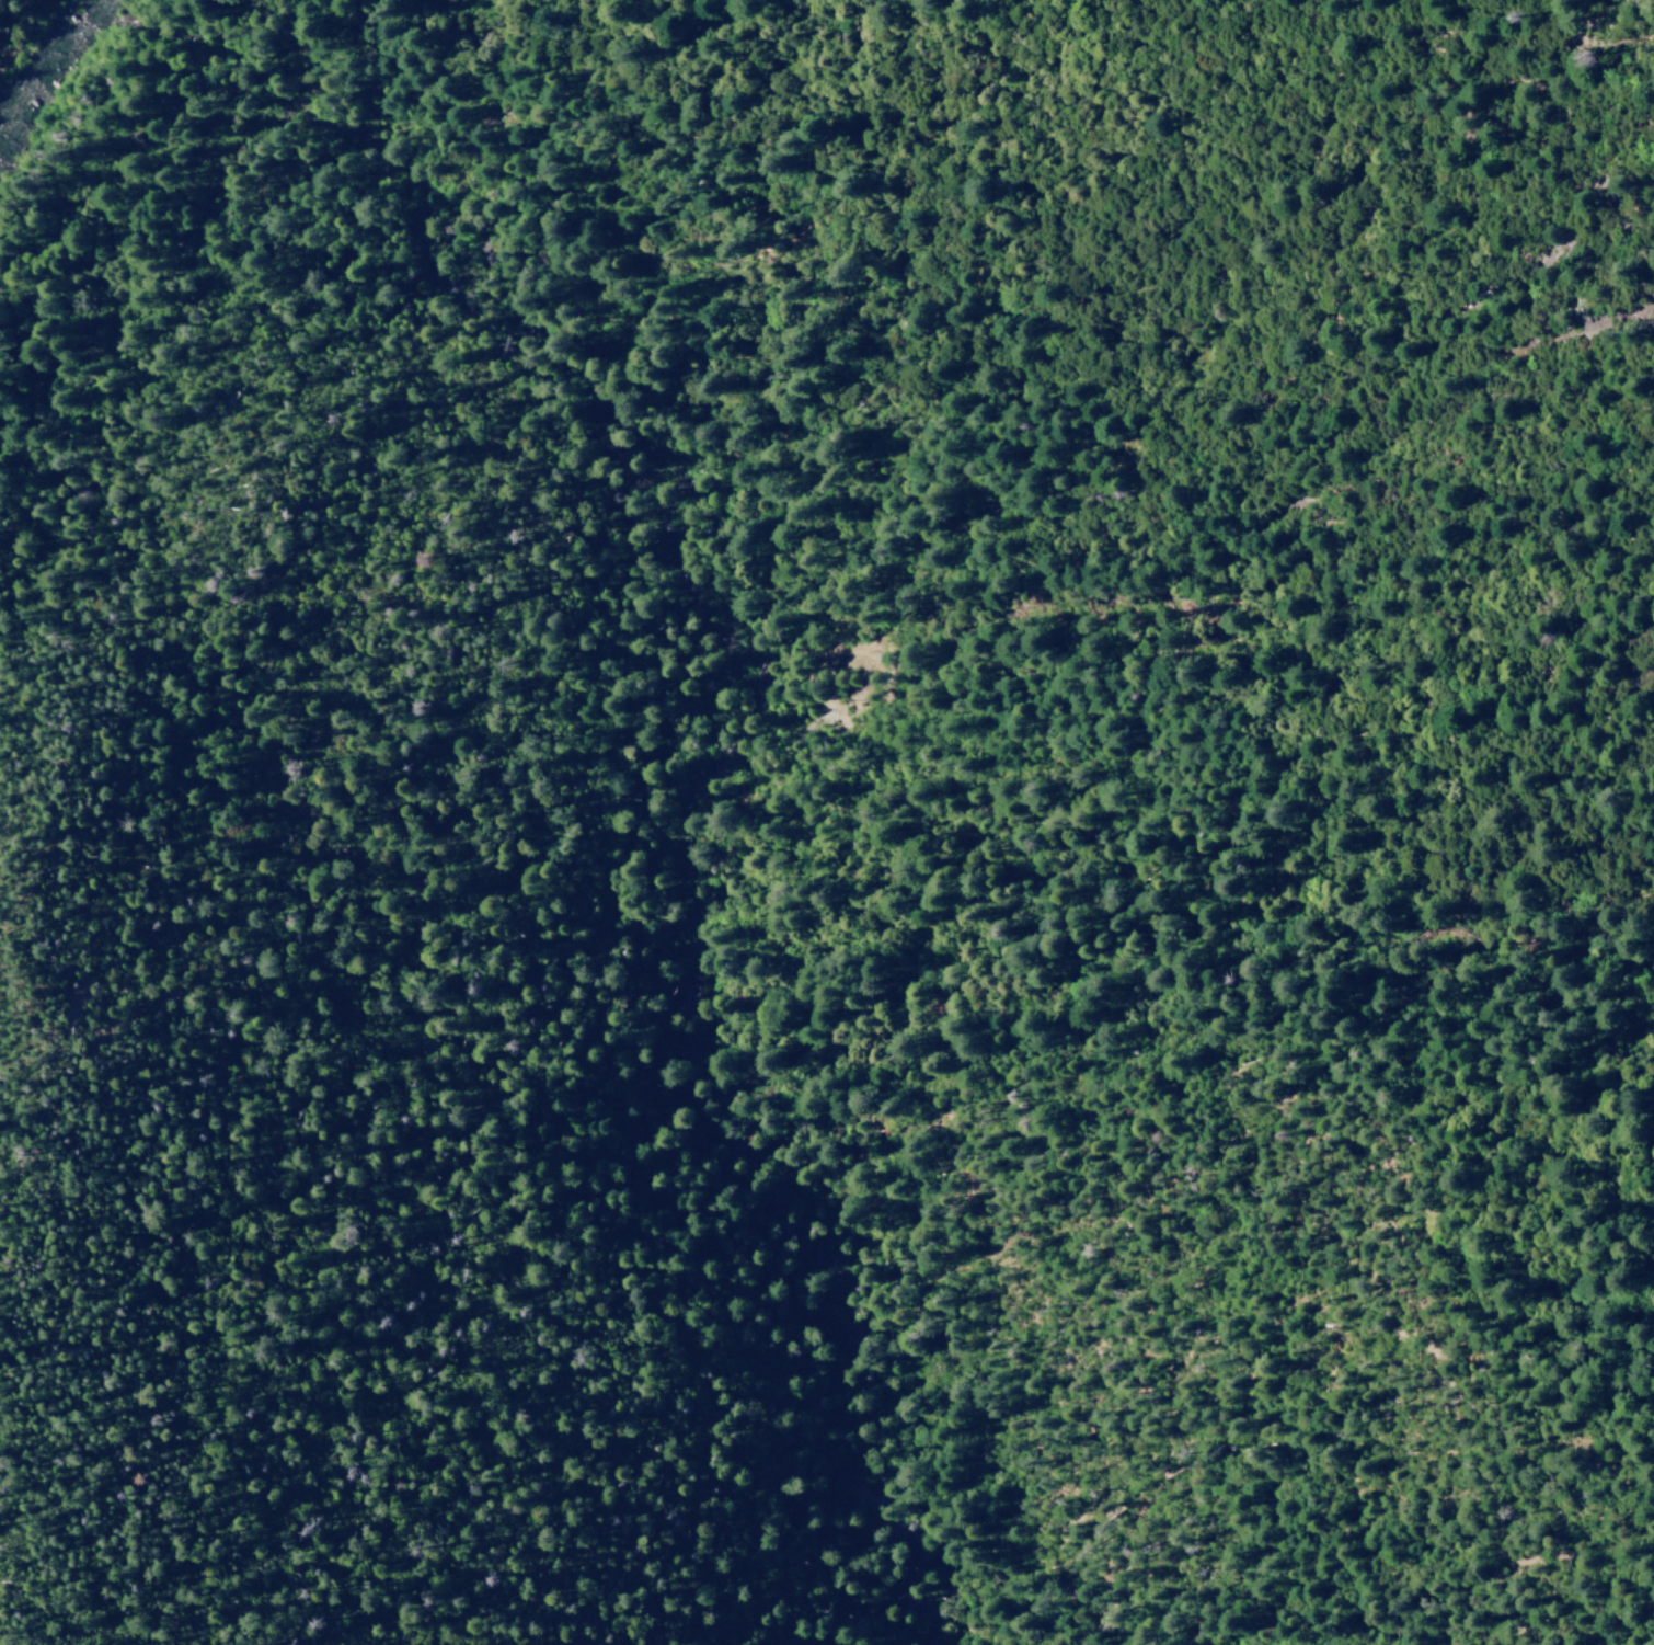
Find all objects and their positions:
river: (103, 14)
river: (44, 53)

